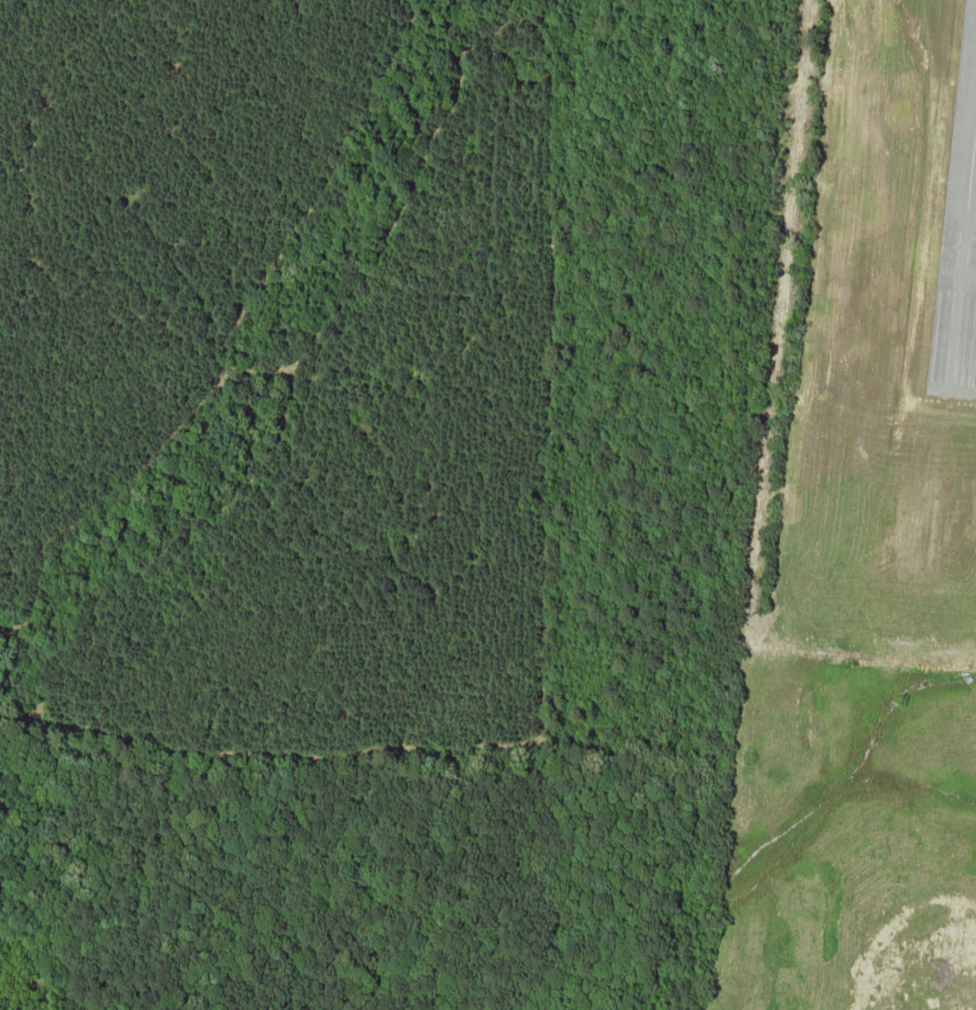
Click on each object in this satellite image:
airport taxiway: (969, 227)
airport runway: (961, 247)
airport taxiway: (962, 383)

